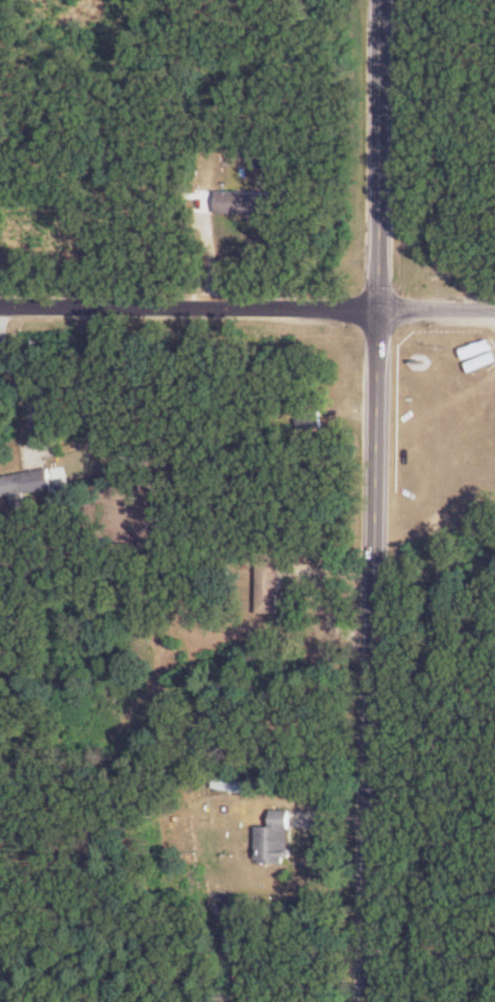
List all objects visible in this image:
building: (245, 203)
road: (211, 250)
road: (247, 307)
road: (14, 374)
building: (25, 486)
road: (378, 501)
building: (269, 587)
building: (276, 840)

